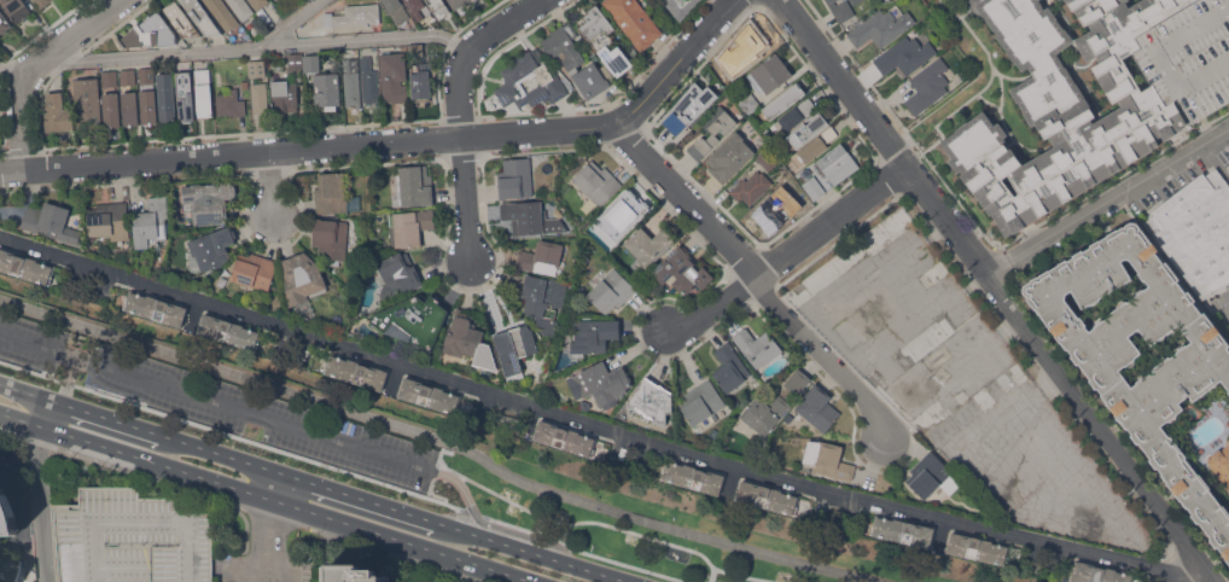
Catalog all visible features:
building: (666, 1)
building: (681, 1)
building: (855, 1)
building: (41, 2)
building: (258, 2)
building: (459, 2)
building: (283, 7)
building: (415, 7)
building: (439, 7)
building: (240, 8)
building: (17, 10)
building: (396, 10)
building: (840, 10)
building: (222, 13)
building: (353, 14)
building: (202, 17)
building: (181, 19)
building: (635, 21)
building: (4, 22)
road: (290, 24)
building: (881, 27)
building: (319, 31)
building: (150, 33)
road: (78, 34)
building: (604, 39)
building: (746, 48)
road: (238, 50)
building: (418, 50)
building: (904, 54)
building: (573, 59)
building: (296, 62)
building: (311, 63)
road: (678, 64)
building: (254, 68)
building: (707, 71)
building: (769, 72)
building: (146, 75)
building: (128, 76)
building: (394, 76)
building: (517, 76)
building: (110, 78)
building: (369, 80)
building: (351, 82)
building: (245, 83)
building: (420, 83)
road: (843, 83)
building: (927, 86)
building: (327, 91)
building: (203, 93)
building: (184, 95)
building: (284, 95)
building: (167, 97)
building: (260, 97)
building: (784, 100)
building: (88, 103)
building: (231, 103)
building: (750, 104)
building: (148, 106)
building: (806, 106)
building: (130, 107)
building: (111, 109)
building: (691, 110)
road: (462, 112)
building: (58, 114)
road: (19, 117)
building: (790, 120)
building: (1112, 120)
building: (808, 129)
building: (712, 132)
road: (516, 135)
building: (814, 146)
building: (729, 157)
building: (768, 159)
road: (1216, 162)
building: (838, 163)
building: (1228, 165)
building: (516, 177)
building: (596, 182)
road: (274, 185)
building: (413, 186)
building: (751, 187)
building: (814, 187)
building: (334, 194)
road: (1119, 196)
building: (208, 202)
building: (774, 211)
building: (622, 214)
building: (531, 217)
building: (51, 222)
building: (110, 222)
building: (151, 222)
building: (409, 227)
building: (1196, 231)
building: (331, 238)
building: (648, 245)
building: (209, 250)
road: (788, 256)
building: (848, 256)
building: (541, 258)
building: (25, 267)
road: (998, 269)
building: (255, 270)
building: (681, 270)
building: (936, 272)
building: (397, 275)
building: (302, 279)
building: (611, 291)
building: (543, 301)
building: (155, 308)
road: (1225, 308)
building: (415, 321)
building: (860, 324)
building: (228, 331)
building: (594, 336)
building: (467, 341)
building: (928, 341)
road: (37, 343)
building: (758, 347)
building: (514, 348)
building: (729, 368)
building: (355, 372)
building: (1019, 372)
road: (1059, 374)
road: (66, 379)
building: (1006, 382)
building: (600, 384)
building: (1228, 391)
building: (1153, 392)
road: (29, 394)
building: (430, 395)
building: (652, 401)
parking lot: (222, 403)
building: (701, 403)
building: (774, 403)
building: (584, 405)
building: (817, 408)
road: (52, 414)
building: (955, 414)
road: (23, 419)
road: (111, 419)
road: (572, 419)
road: (311, 432)
building: (564, 438)
road: (443, 441)
road: (220, 453)
building: (827, 459)
road: (159, 462)
building: (1221, 464)
road: (124, 470)
road: (343, 470)
building: (931, 476)
building: (692, 477)
road: (275, 485)
road: (357, 496)
building: (767, 497)
park: (611, 500)
road: (37, 502)
road: (17, 504)
road: (590, 512)
building: (6, 516)
road: (581, 520)
building: (902, 530)
building: (132, 539)
road: (273, 541)
road: (404, 541)
building: (984, 549)
road: (536, 552)
road: (1178, 570)
building: (14, 571)
road: (711, 572)
road: (749, 572)
building: (350, 574)
building: (1100, 574)

